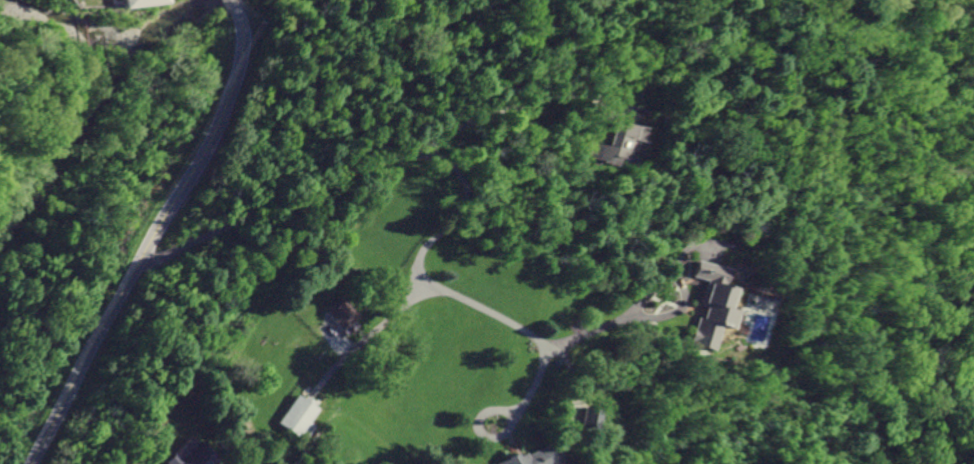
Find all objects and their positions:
building: (136, 2)
road: (228, 4)
road: (526, 101)
building: (612, 143)
road: (426, 157)
road: (151, 239)
road: (639, 300)
building: (711, 304)
road: (674, 309)
building: (340, 318)
road: (359, 341)
road: (534, 382)
road: (579, 397)
road: (480, 416)
building: (298, 417)
building: (593, 418)
building: (191, 456)
building: (528, 458)

